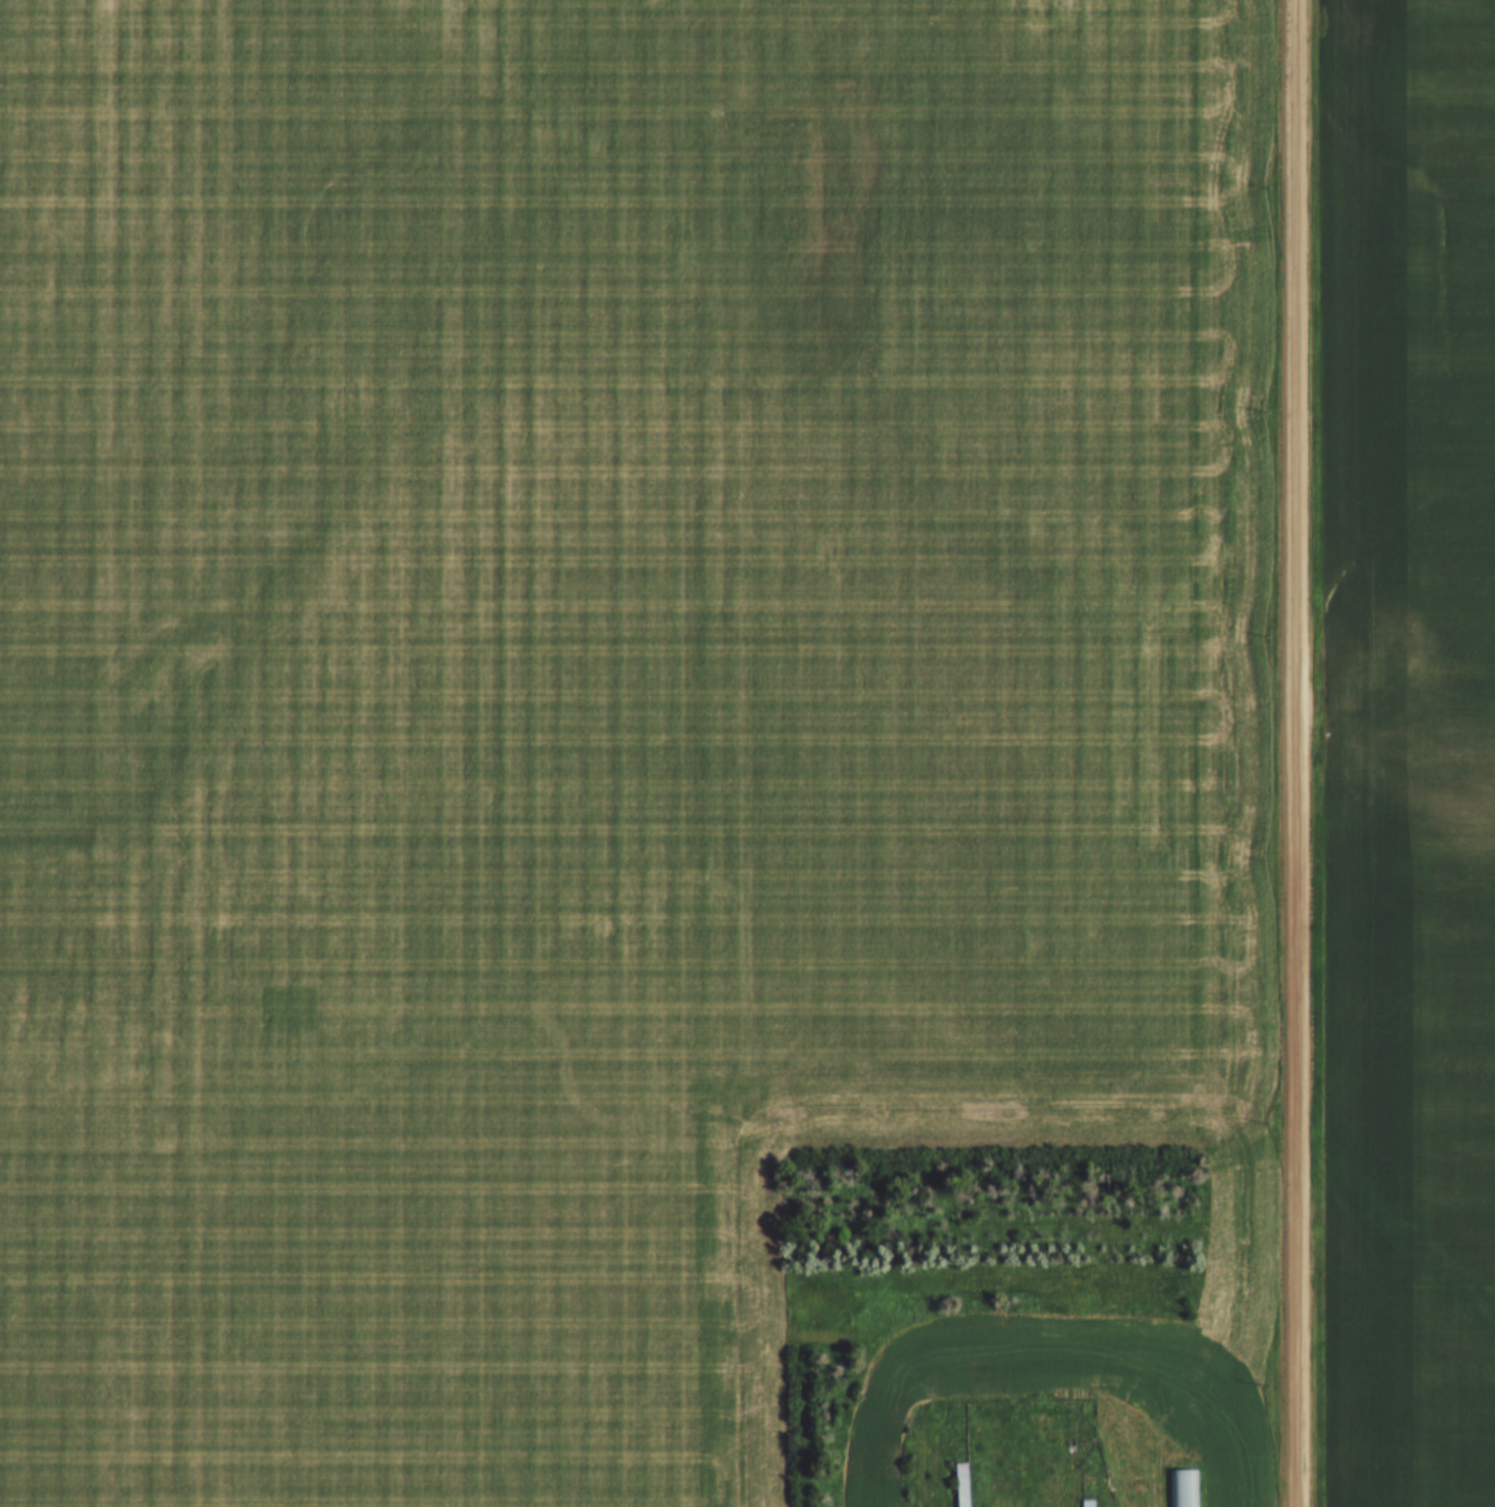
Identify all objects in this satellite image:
road: (1293, 753)
building: (963, 1485)
building: (1185, 1488)
building: (1089, 1504)

